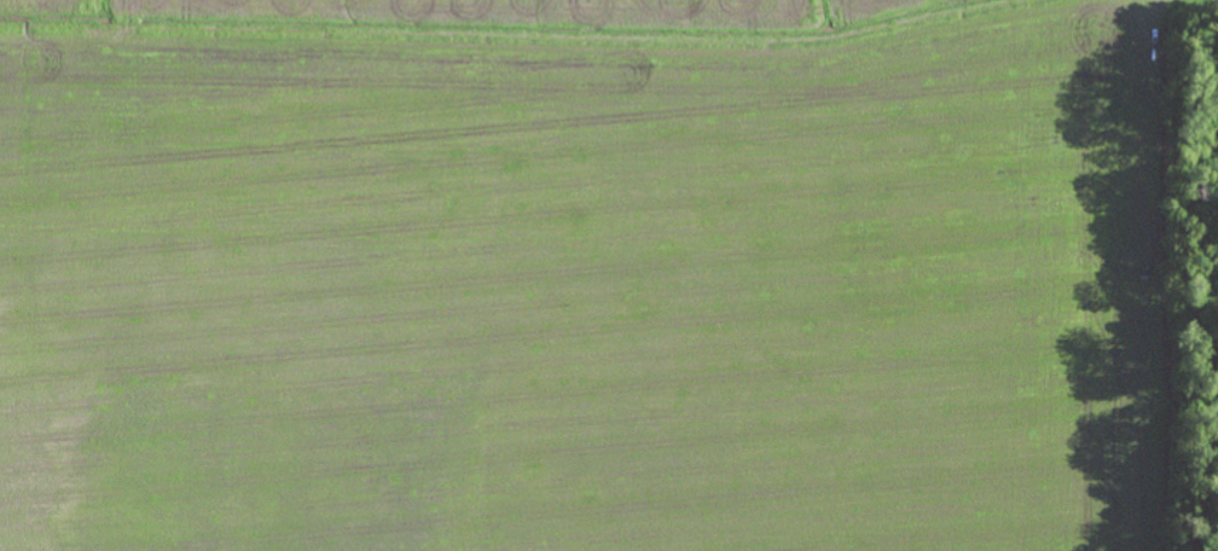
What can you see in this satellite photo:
road: (546, 43)
park: (1205, 280)

